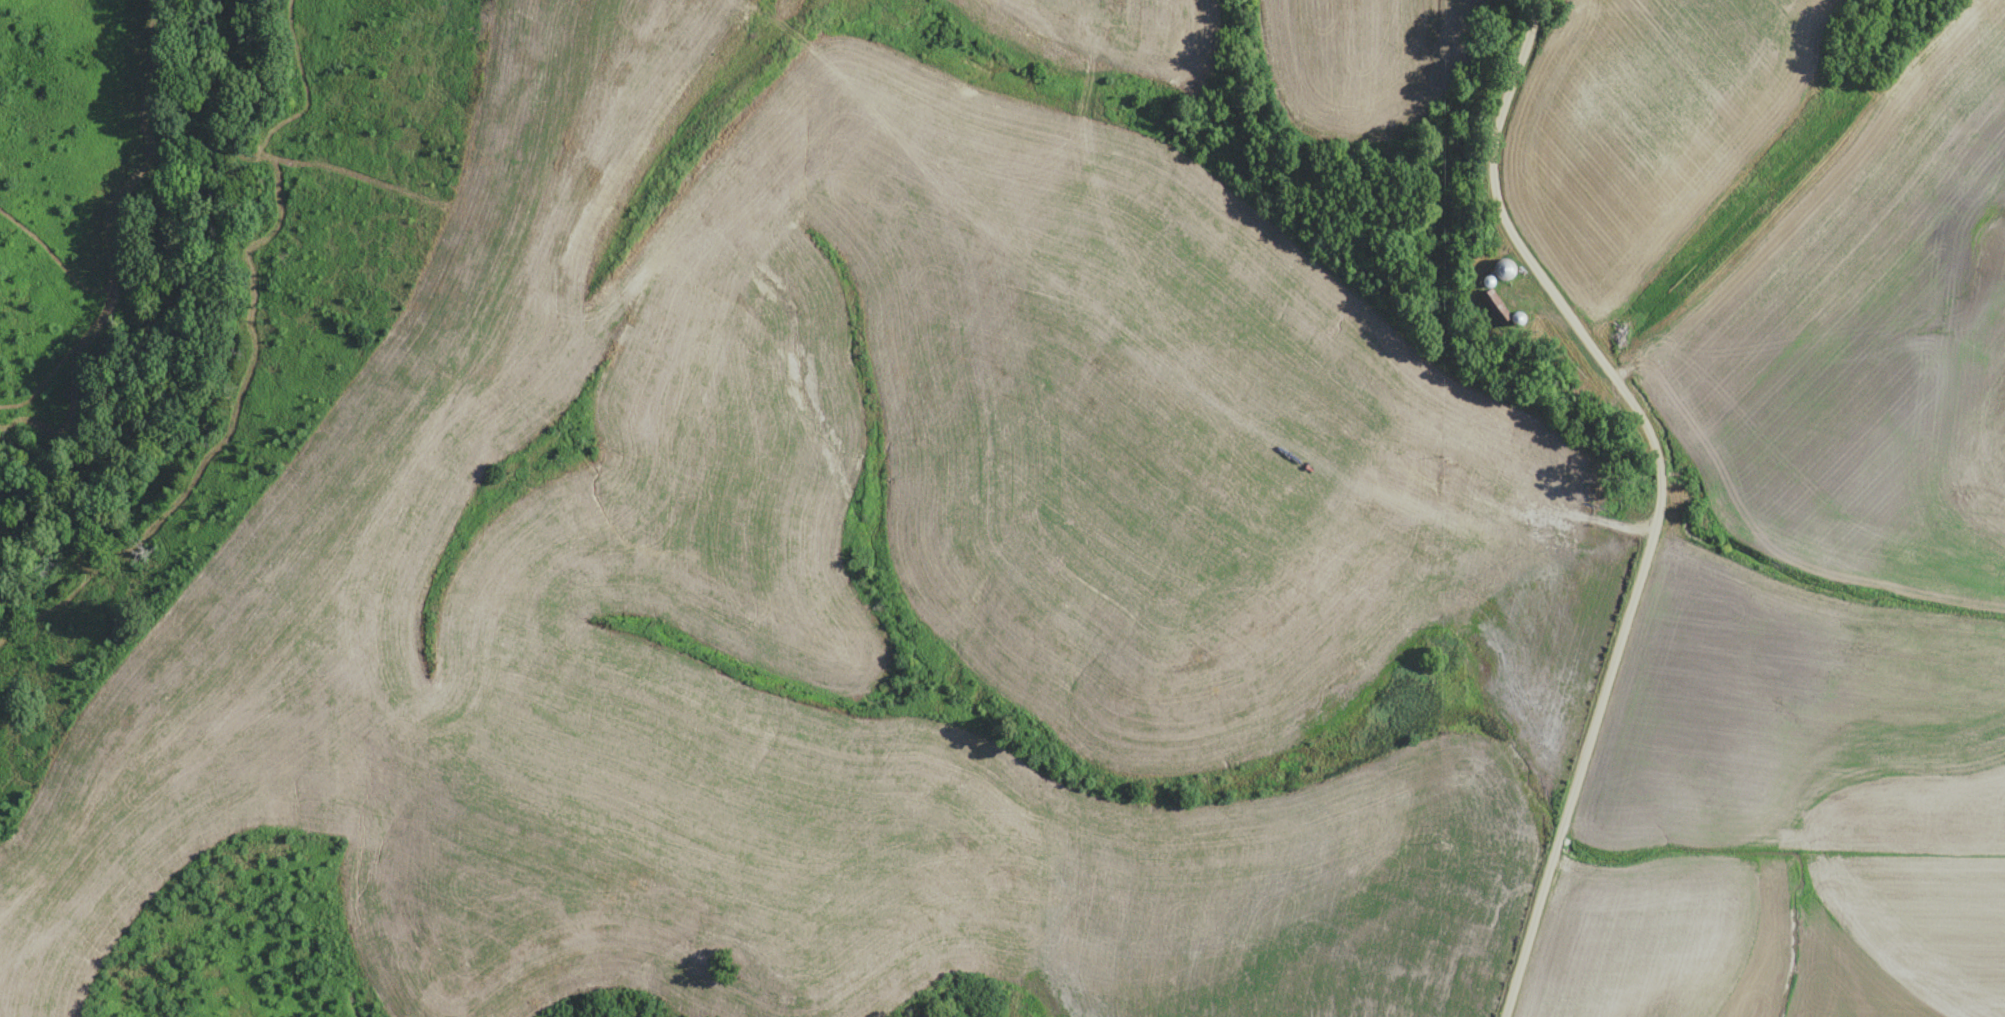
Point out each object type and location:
building: (1498, 272)
building: (1511, 321)
road: (1662, 492)

